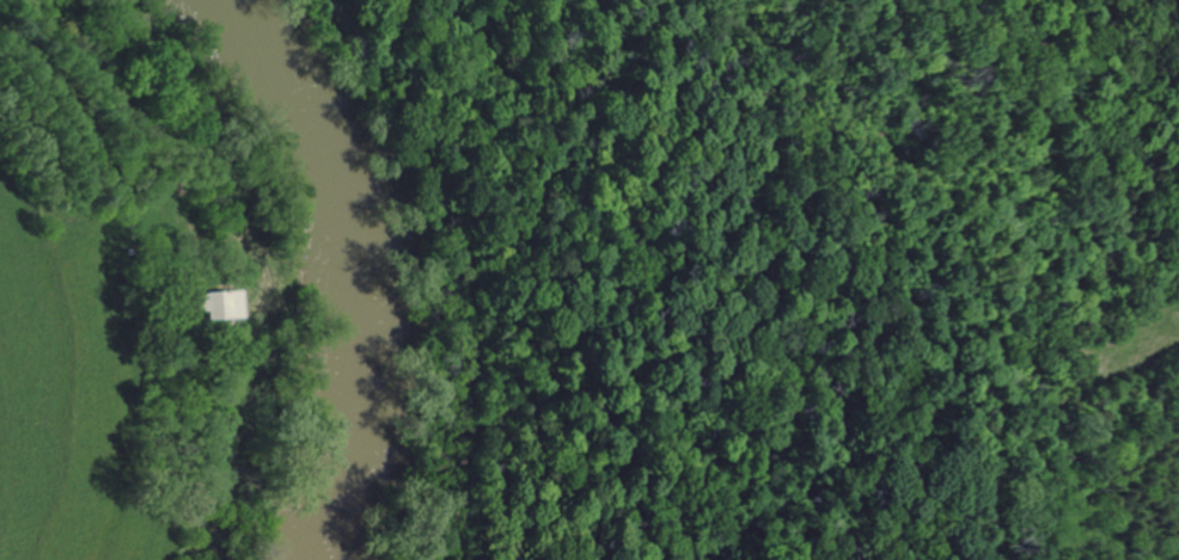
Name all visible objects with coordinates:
road: (71, 26)
river: (375, 271)
building: (220, 303)

